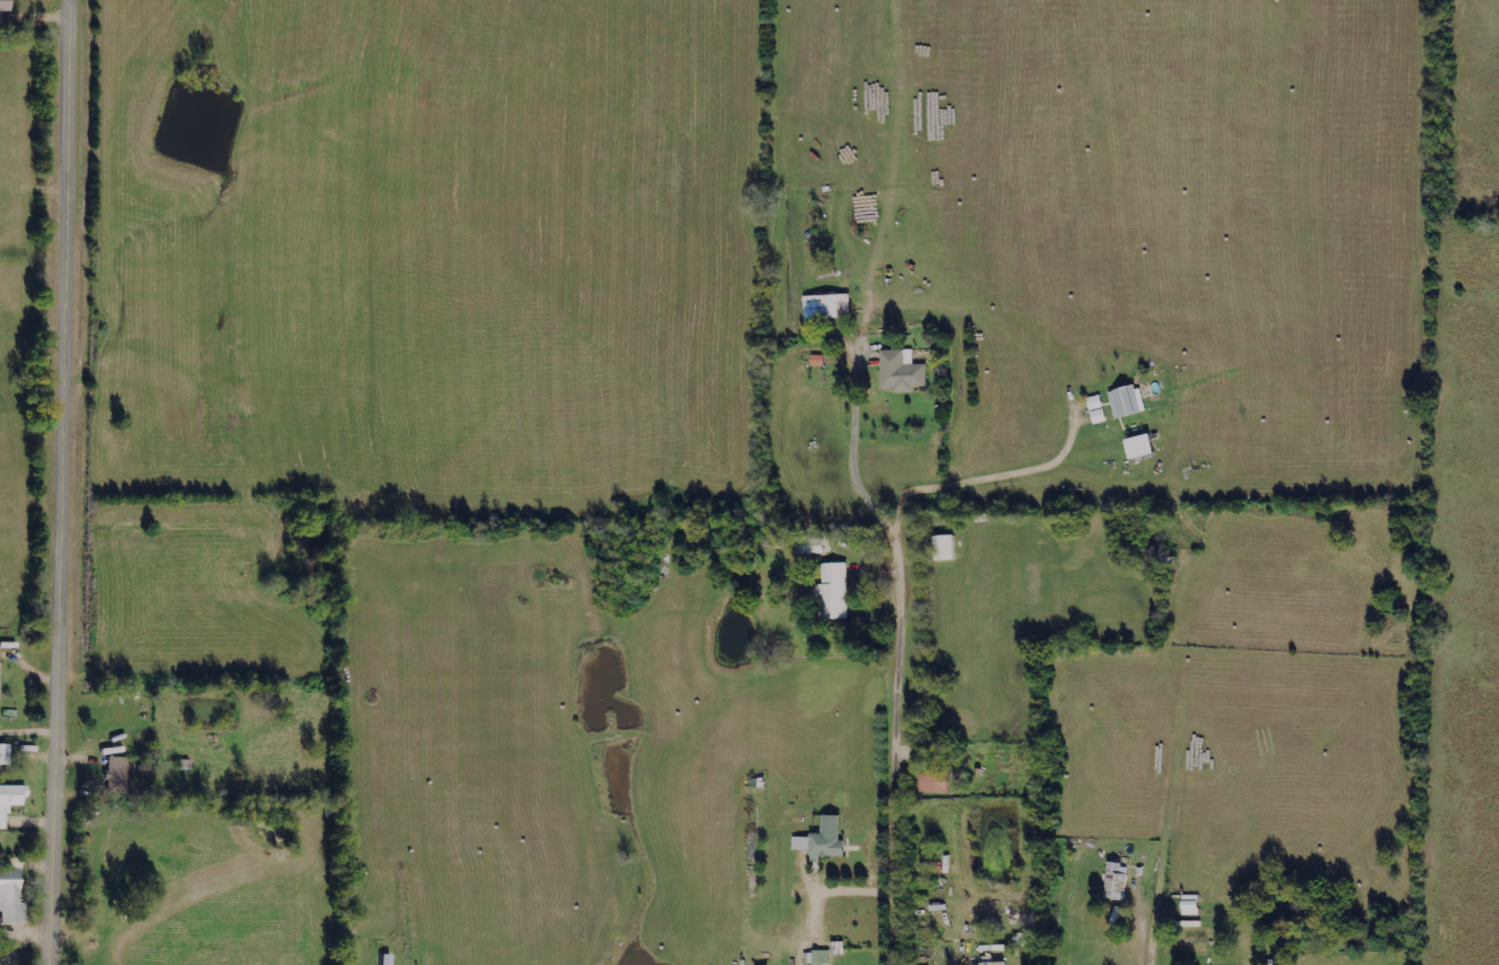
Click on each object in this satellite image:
building: (5, 5)
building: (826, 306)
building: (818, 359)
building: (902, 370)
building: (1125, 400)
building: (1097, 408)
building: (1141, 445)
road: (57, 482)
building: (811, 545)
building: (945, 546)
building: (834, 590)
road: (901, 753)
building: (5, 754)
building: (118, 774)
building: (936, 780)
building: (10, 800)
building: (823, 839)
building: (1117, 880)
building: (11, 897)
building: (1023, 939)
building: (819, 956)
building: (386, 959)
building: (995, 963)

